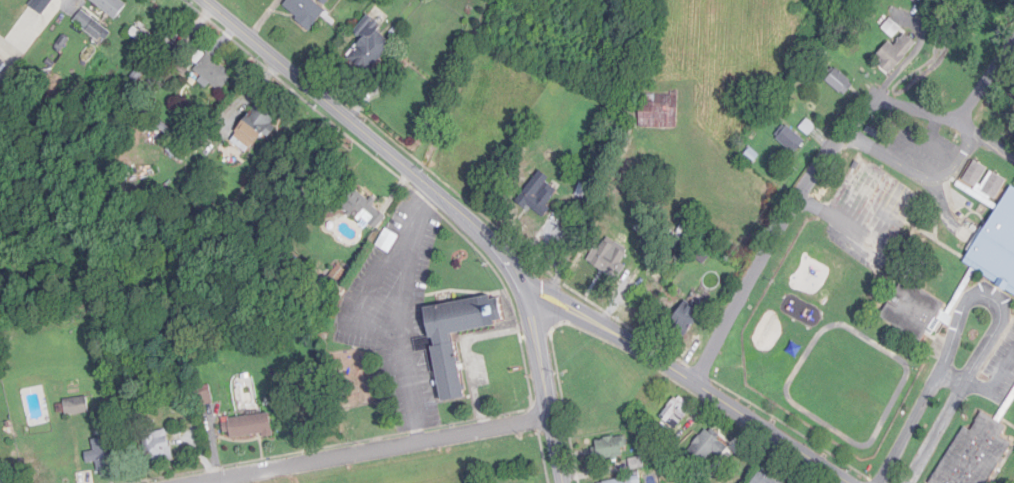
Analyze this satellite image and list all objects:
building: (111, 6)
building: (304, 11)
building: (90, 26)
building: (892, 28)
building: (368, 47)
building: (895, 53)
building: (212, 74)
building: (840, 82)
road: (990, 84)
building: (658, 111)
building: (253, 129)
building: (791, 140)
road: (989, 141)
road: (925, 144)
road: (916, 165)
building: (995, 183)
building: (541, 197)
road: (798, 199)
road: (447, 202)
building: (362, 208)
building: (997, 247)
road: (551, 250)
building: (611, 256)
road: (984, 296)
building: (917, 311)
road: (397, 315)
building: (687, 316)
building: (445, 349)
road: (953, 377)
road: (693, 382)
building: (76, 406)
building: (677, 412)
building: (249, 427)
building: (707, 447)
building: (158, 448)
building: (611, 448)
road: (380, 451)
building: (975, 453)
building: (101, 456)
building: (636, 464)
road: (844, 480)

